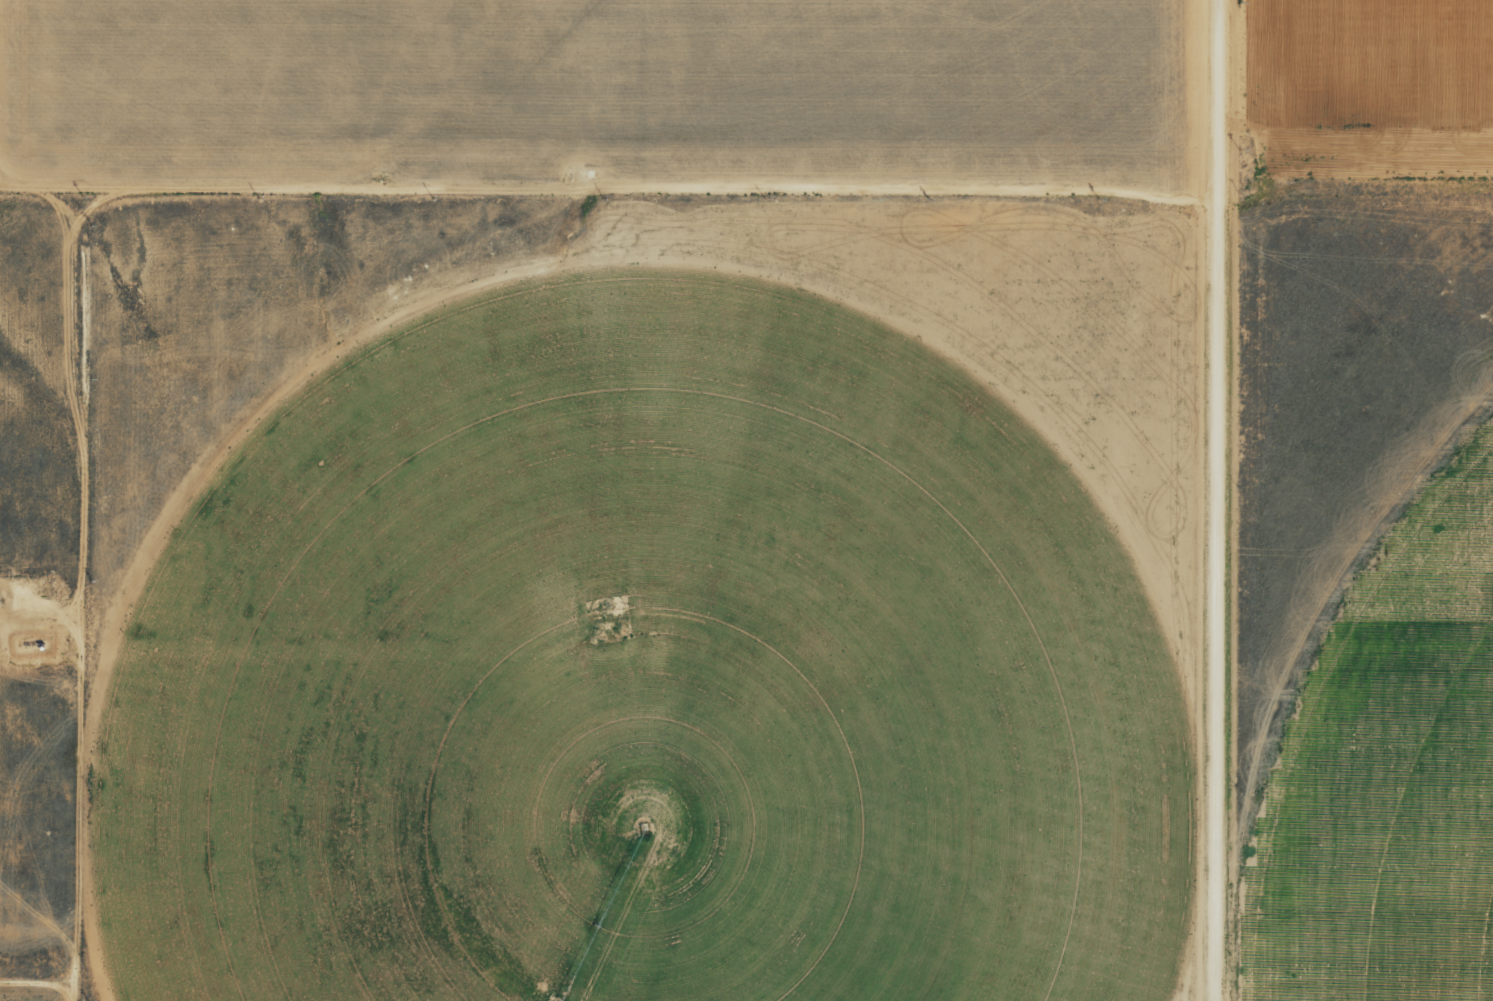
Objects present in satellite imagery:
road: (606, 158)
road: (1227, 500)
road: (87, 598)

